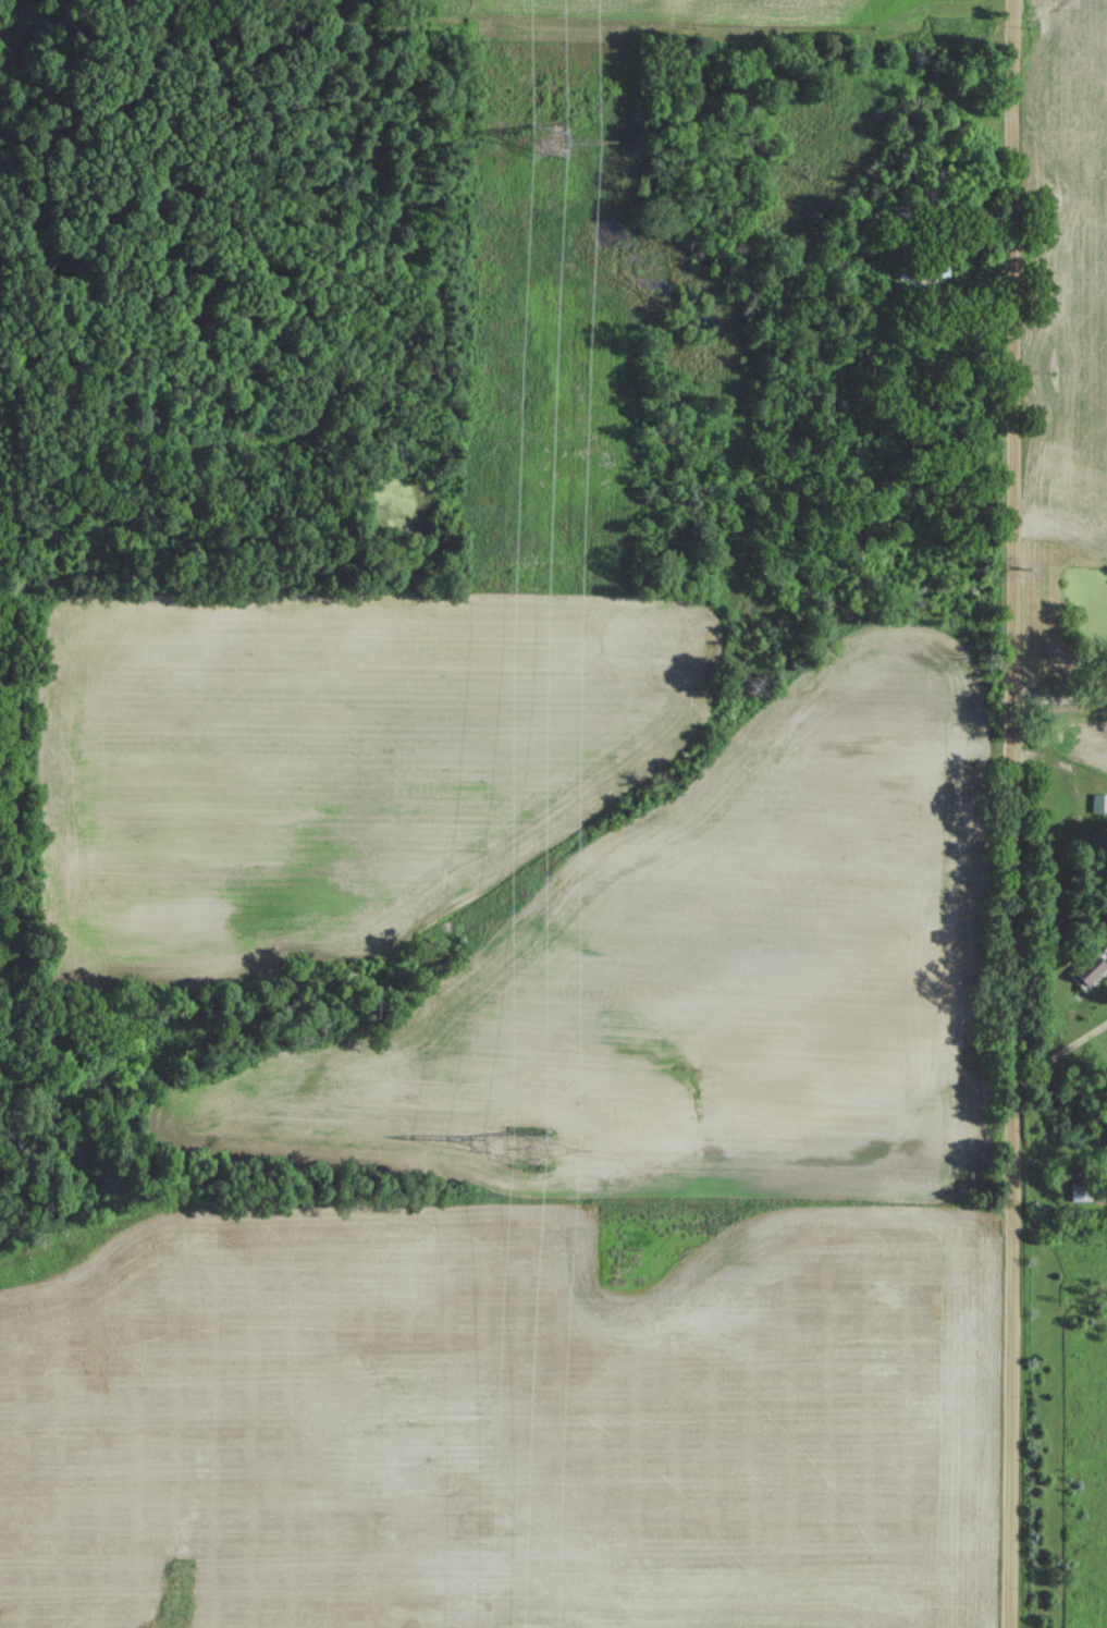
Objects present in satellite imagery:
power tower: (543, 139)
building: (917, 271)
road: (1063, 696)
building: (1099, 803)
road: (1019, 813)
building: (1091, 968)
road: (1063, 1063)
power tower: (529, 1147)
building: (1080, 1190)

